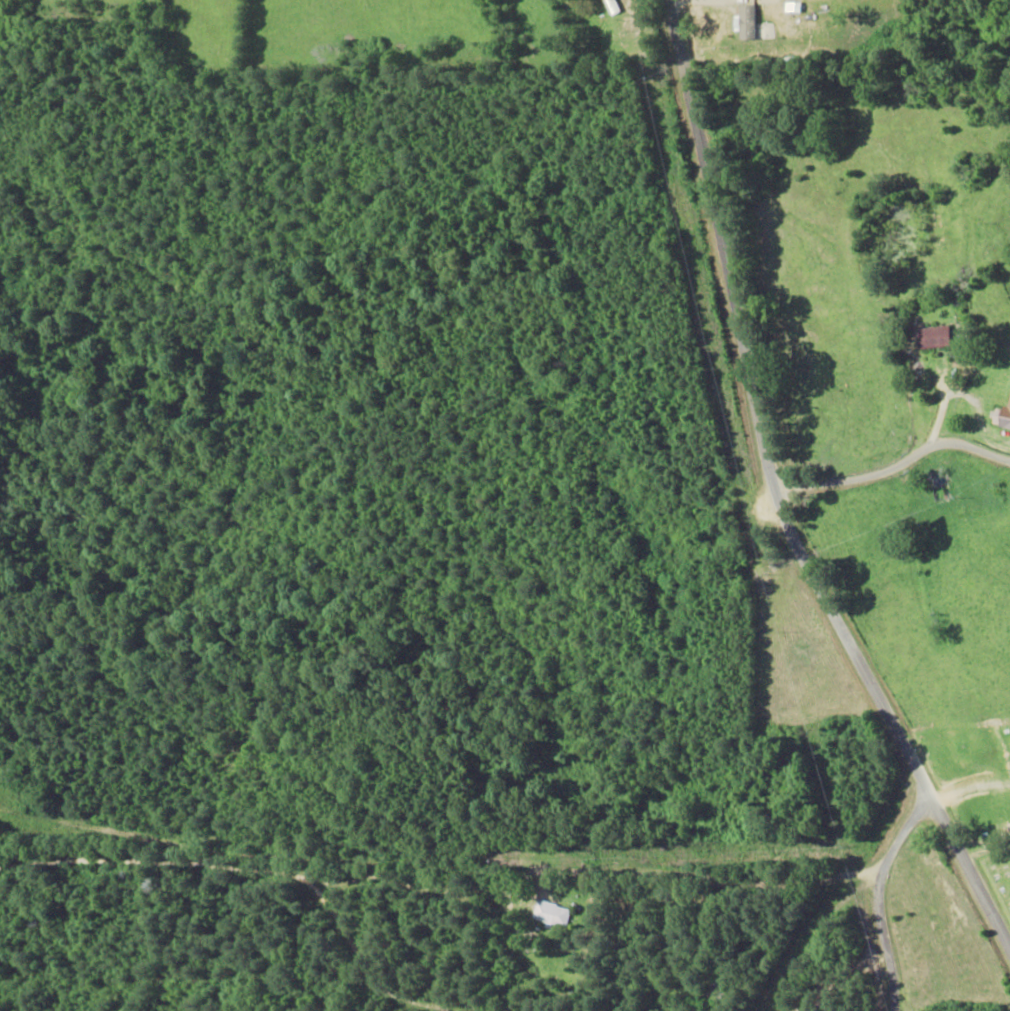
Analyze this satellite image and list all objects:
building: (751, 25)
road: (809, 96)
building: (932, 336)
building: (1001, 415)
road: (786, 524)
road: (977, 890)
building: (550, 913)
road: (858, 925)

